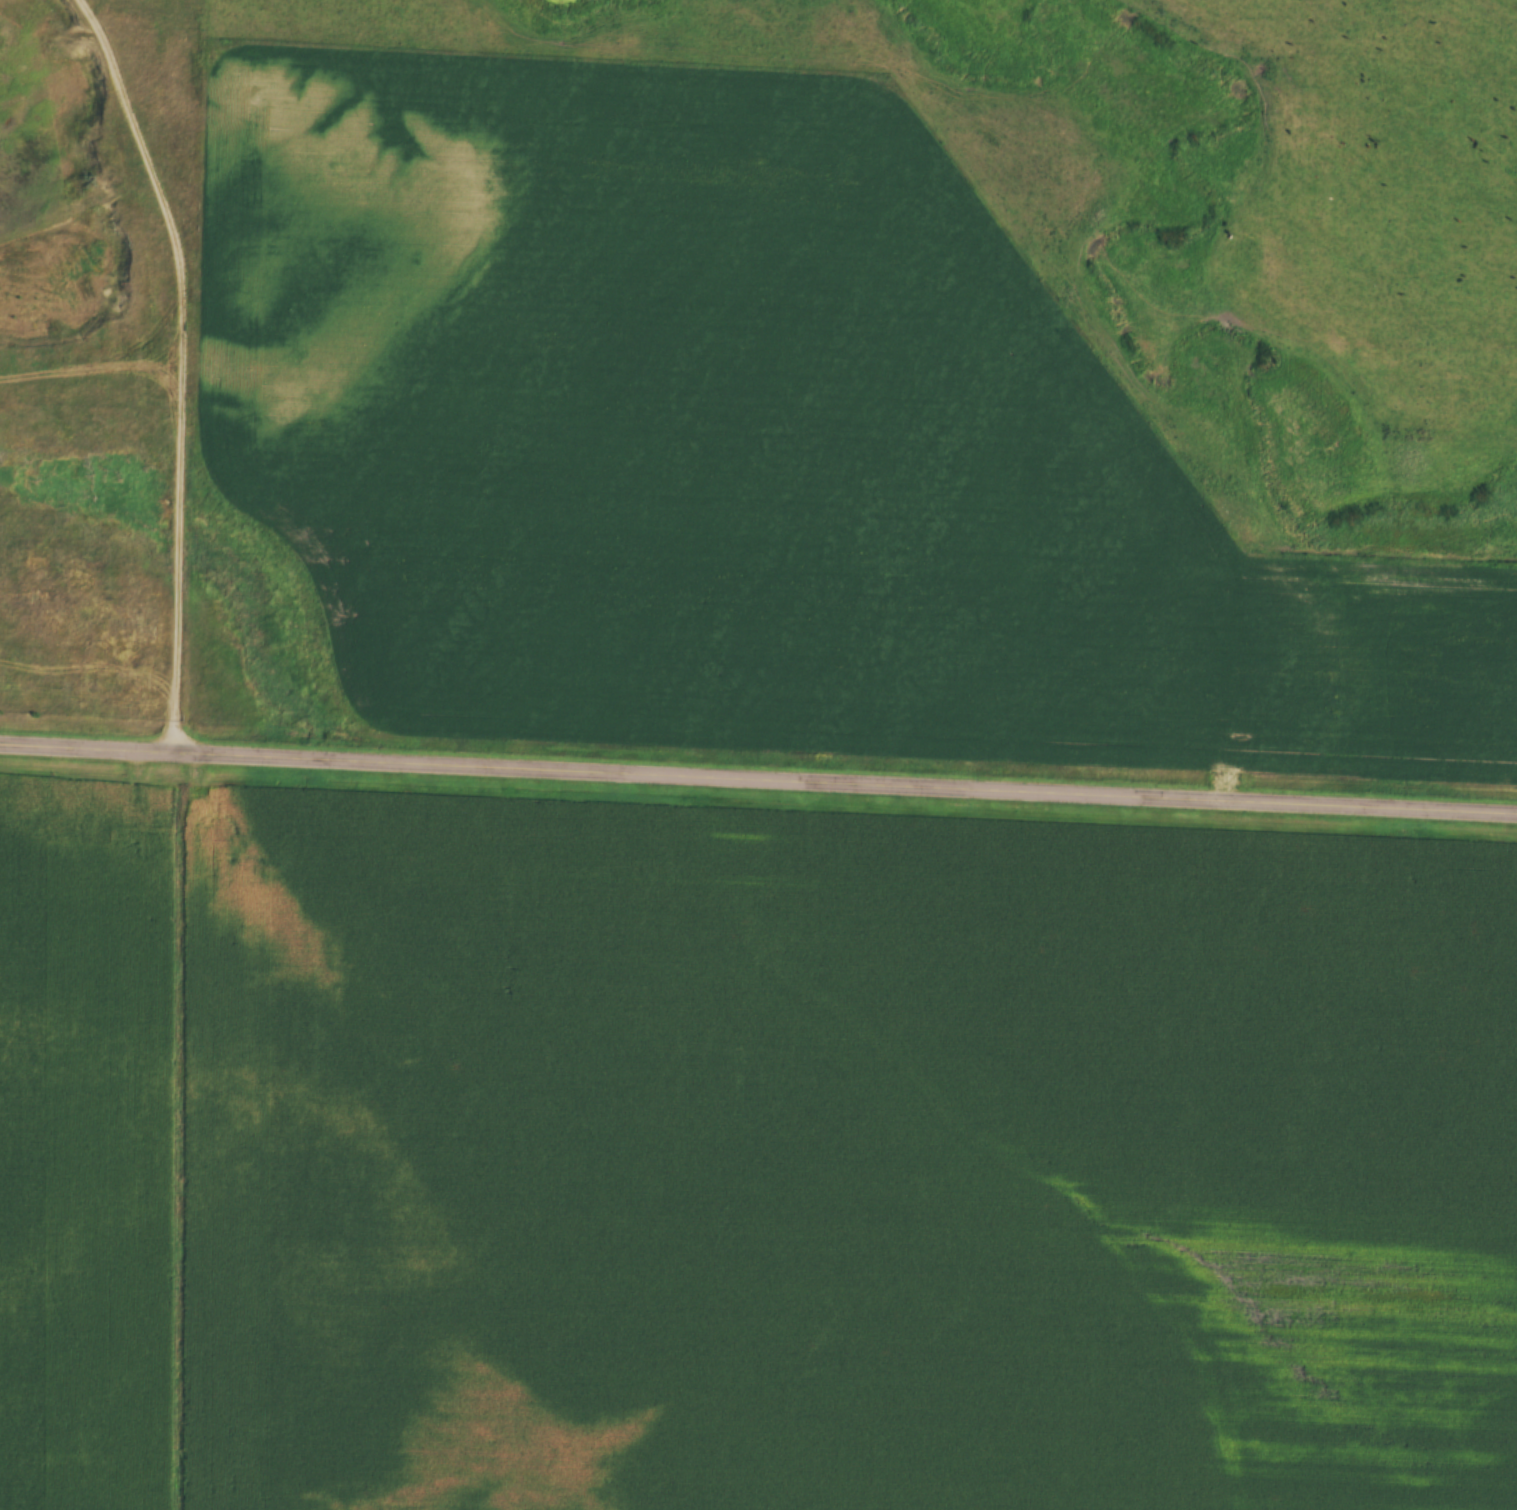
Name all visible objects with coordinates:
road: (91, 750)
road: (849, 790)

